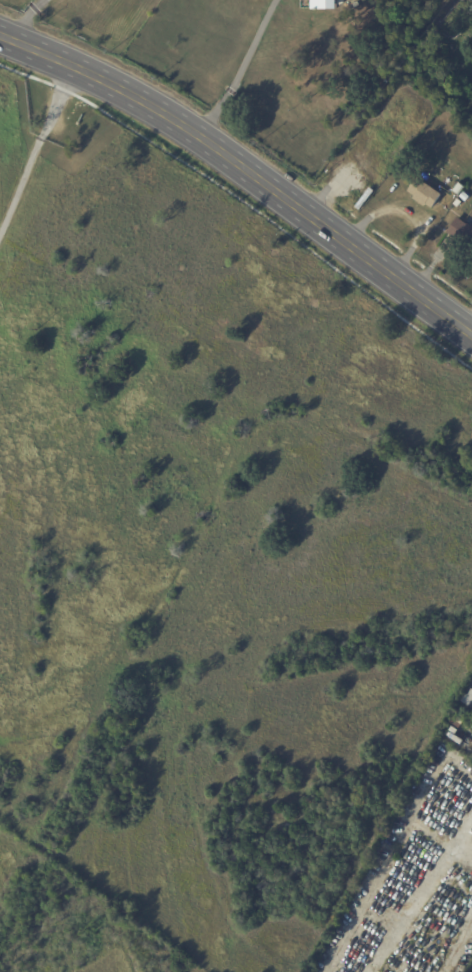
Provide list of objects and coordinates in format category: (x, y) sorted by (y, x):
building: (325, 3)
road: (28, 18)
road: (240, 70)
road: (36, 149)
road: (244, 169)
building: (463, 191)
building: (427, 193)
road: (410, 211)
building: (461, 231)
park: (199, 553)
building: (469, 700)

